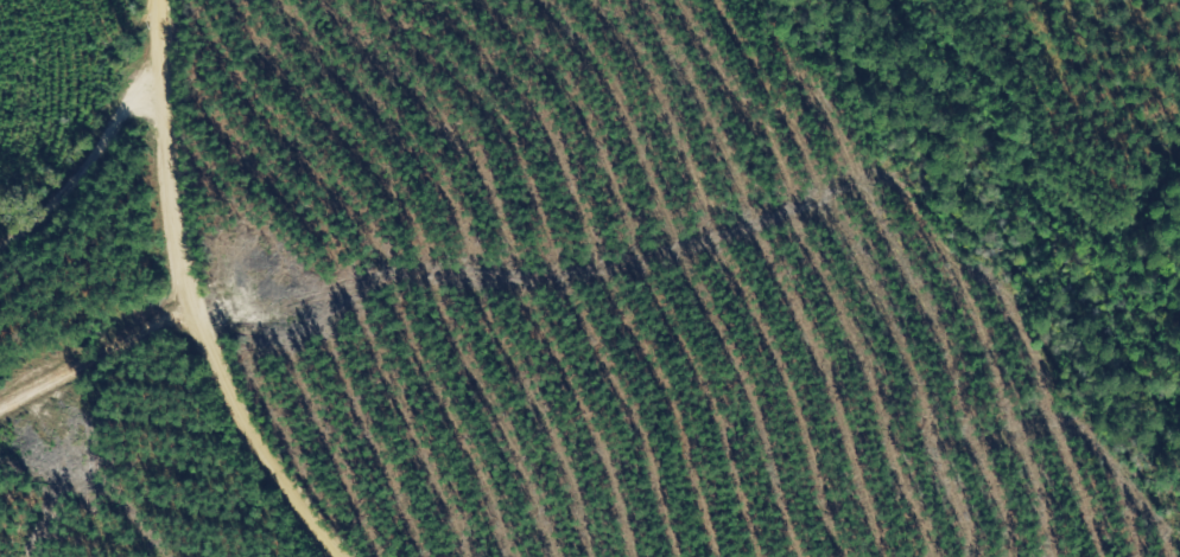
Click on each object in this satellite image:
road: (81, 169)
road: (183, 296)
road: (93, 357)

